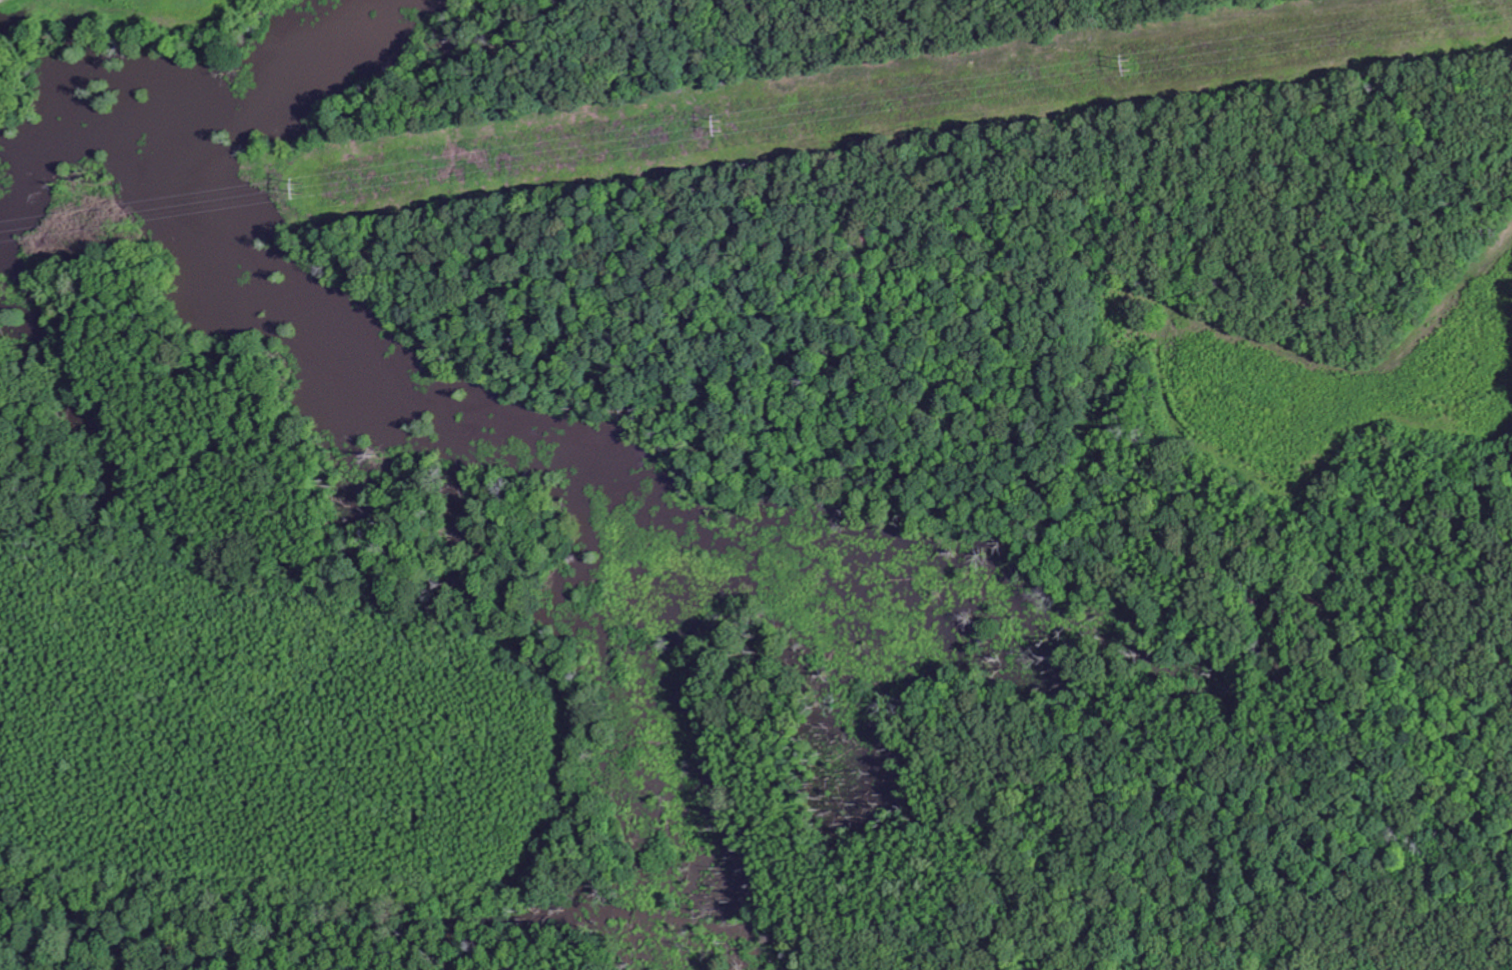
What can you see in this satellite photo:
power tower: (1130, 66)
power tower: (723, 125)

